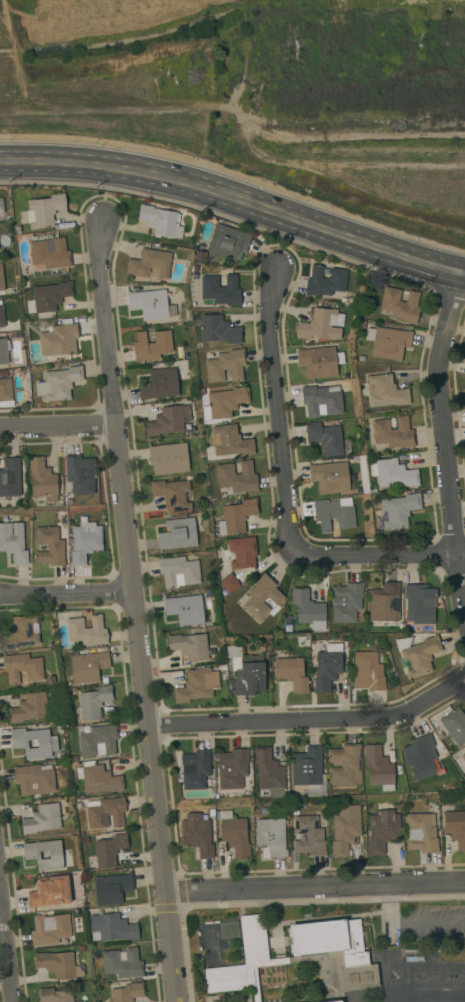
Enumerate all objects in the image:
road: (233, 196)
building: (1, 206)
building: (44, 210)
building: (161, 221)
building: (228, 242)
building: (49, 253)
building: (200, 255)
building: (208, 260)
building: (150, 264)
building: (195, 269)
road: (461, 272)
road: (461, 275)
building: (1, 278)
building: (325, 281)
building: (221, 289)
building: (48, 299)
building: (151, 304)
building: (399, 305)
building: (1, 316)
building: (321, 325)
building: (218, 330)
building: (59, 340)
building: (388, 342)
building: (151, 346)
building: (4, 351)
building: (319, 362)
building: (225, 366)
building: (58, 383)
building: (159, 384)
building: (385, 391)
building: (5, 393)
building: (321, 401)
building: (224, 402)
building: (168, 420)
road: (276, 421)
road: (59, 426)
building: (393, 433)
road: (443, 435)
building: (325, 438)
building: (230, 441)
building: (168, 458)
building: (392, 473)
building: (80, 474)
building: (10, 476)
building: (237, 477)
building: (330, 477)
building: (42, 479)
building: (172, 494)
building: (397, 511)
building: (333, 515)
building: (236, 516)
building: (178, 535)
building: (85, 541)
building: (13, 542)
building: (49, 546)
building: (242, 552)
road: (387, 556)
building: (178, 572)
building: (229, 584)
road: (65, 596)
building: (262, 597)
building: (346, 601)
building: (384, 603)
building: (419, 604)
road: (131, 609)
building: (185, 609)
building: (308, 609)
building: (86, 630)
building: (21, 633)
building: (190, 646)
building: (234, 651)
building: (418, 654)
building: (88, 666)
building: (22, 667)
building: (327, 667)
building: (368, 672)
building: (292, 673)
building: (248, 674)
building: (197, 685)
building: (94, 702)
building: (29, 708)
road: (309, 719)
building: (455, 725)
building: (99, 740)
building: (47, 743)
building: (420, 756)
building: (461, 763)
building: (345, 765)
building: (232, 768)
building: (379, 768)
building: (195, 769)
building: (309, 771)
building: (269, 772)
building: (98, 778)
building: (35, 779)
building: (106, 813)
building: (42, 819)
building: (455, 827)
building: (345, 829)
building: (382, 830)
building: (421, 832)
building: (234, 834)
building: (197, 835)
building: (272, 836)
building: (308, 836)
building: (110, 850)
building: (31, 855)
building: (112, 888)
road: (316, 888)
building: (50, 891)
road: (389, 907)
road: (432, 923)
building: (112, 928)
building: (50, 929)
road: (7, 931)
building: (298, 954)
building: (122, 963)
building: (58, 964)
building: (128, 992)
building: (55, 995)
building: (82, 1001)
building: (335, 1001)

